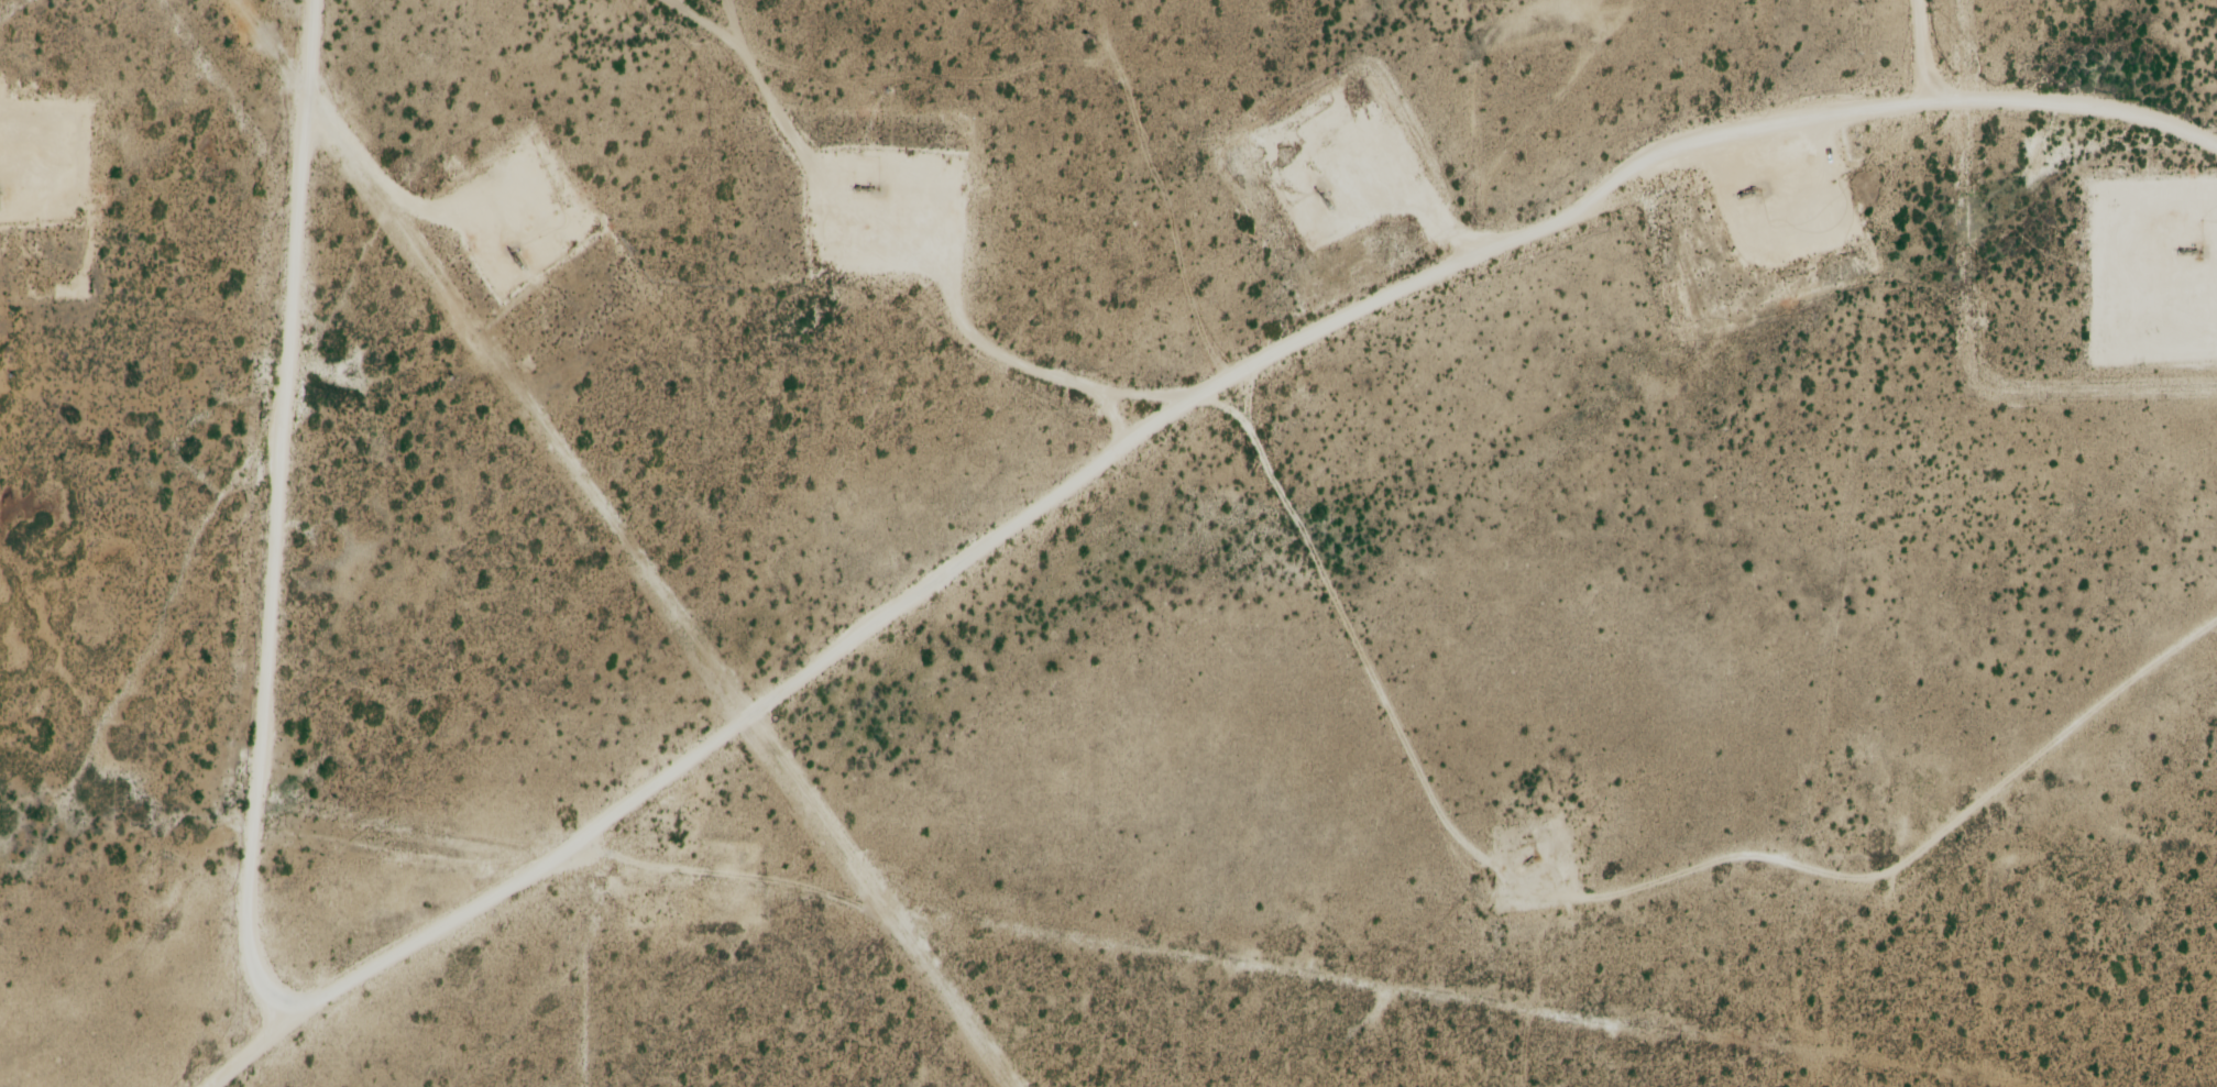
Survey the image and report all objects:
road: (1379, 253)
road: (1292, 463)
road: (144, 542)

